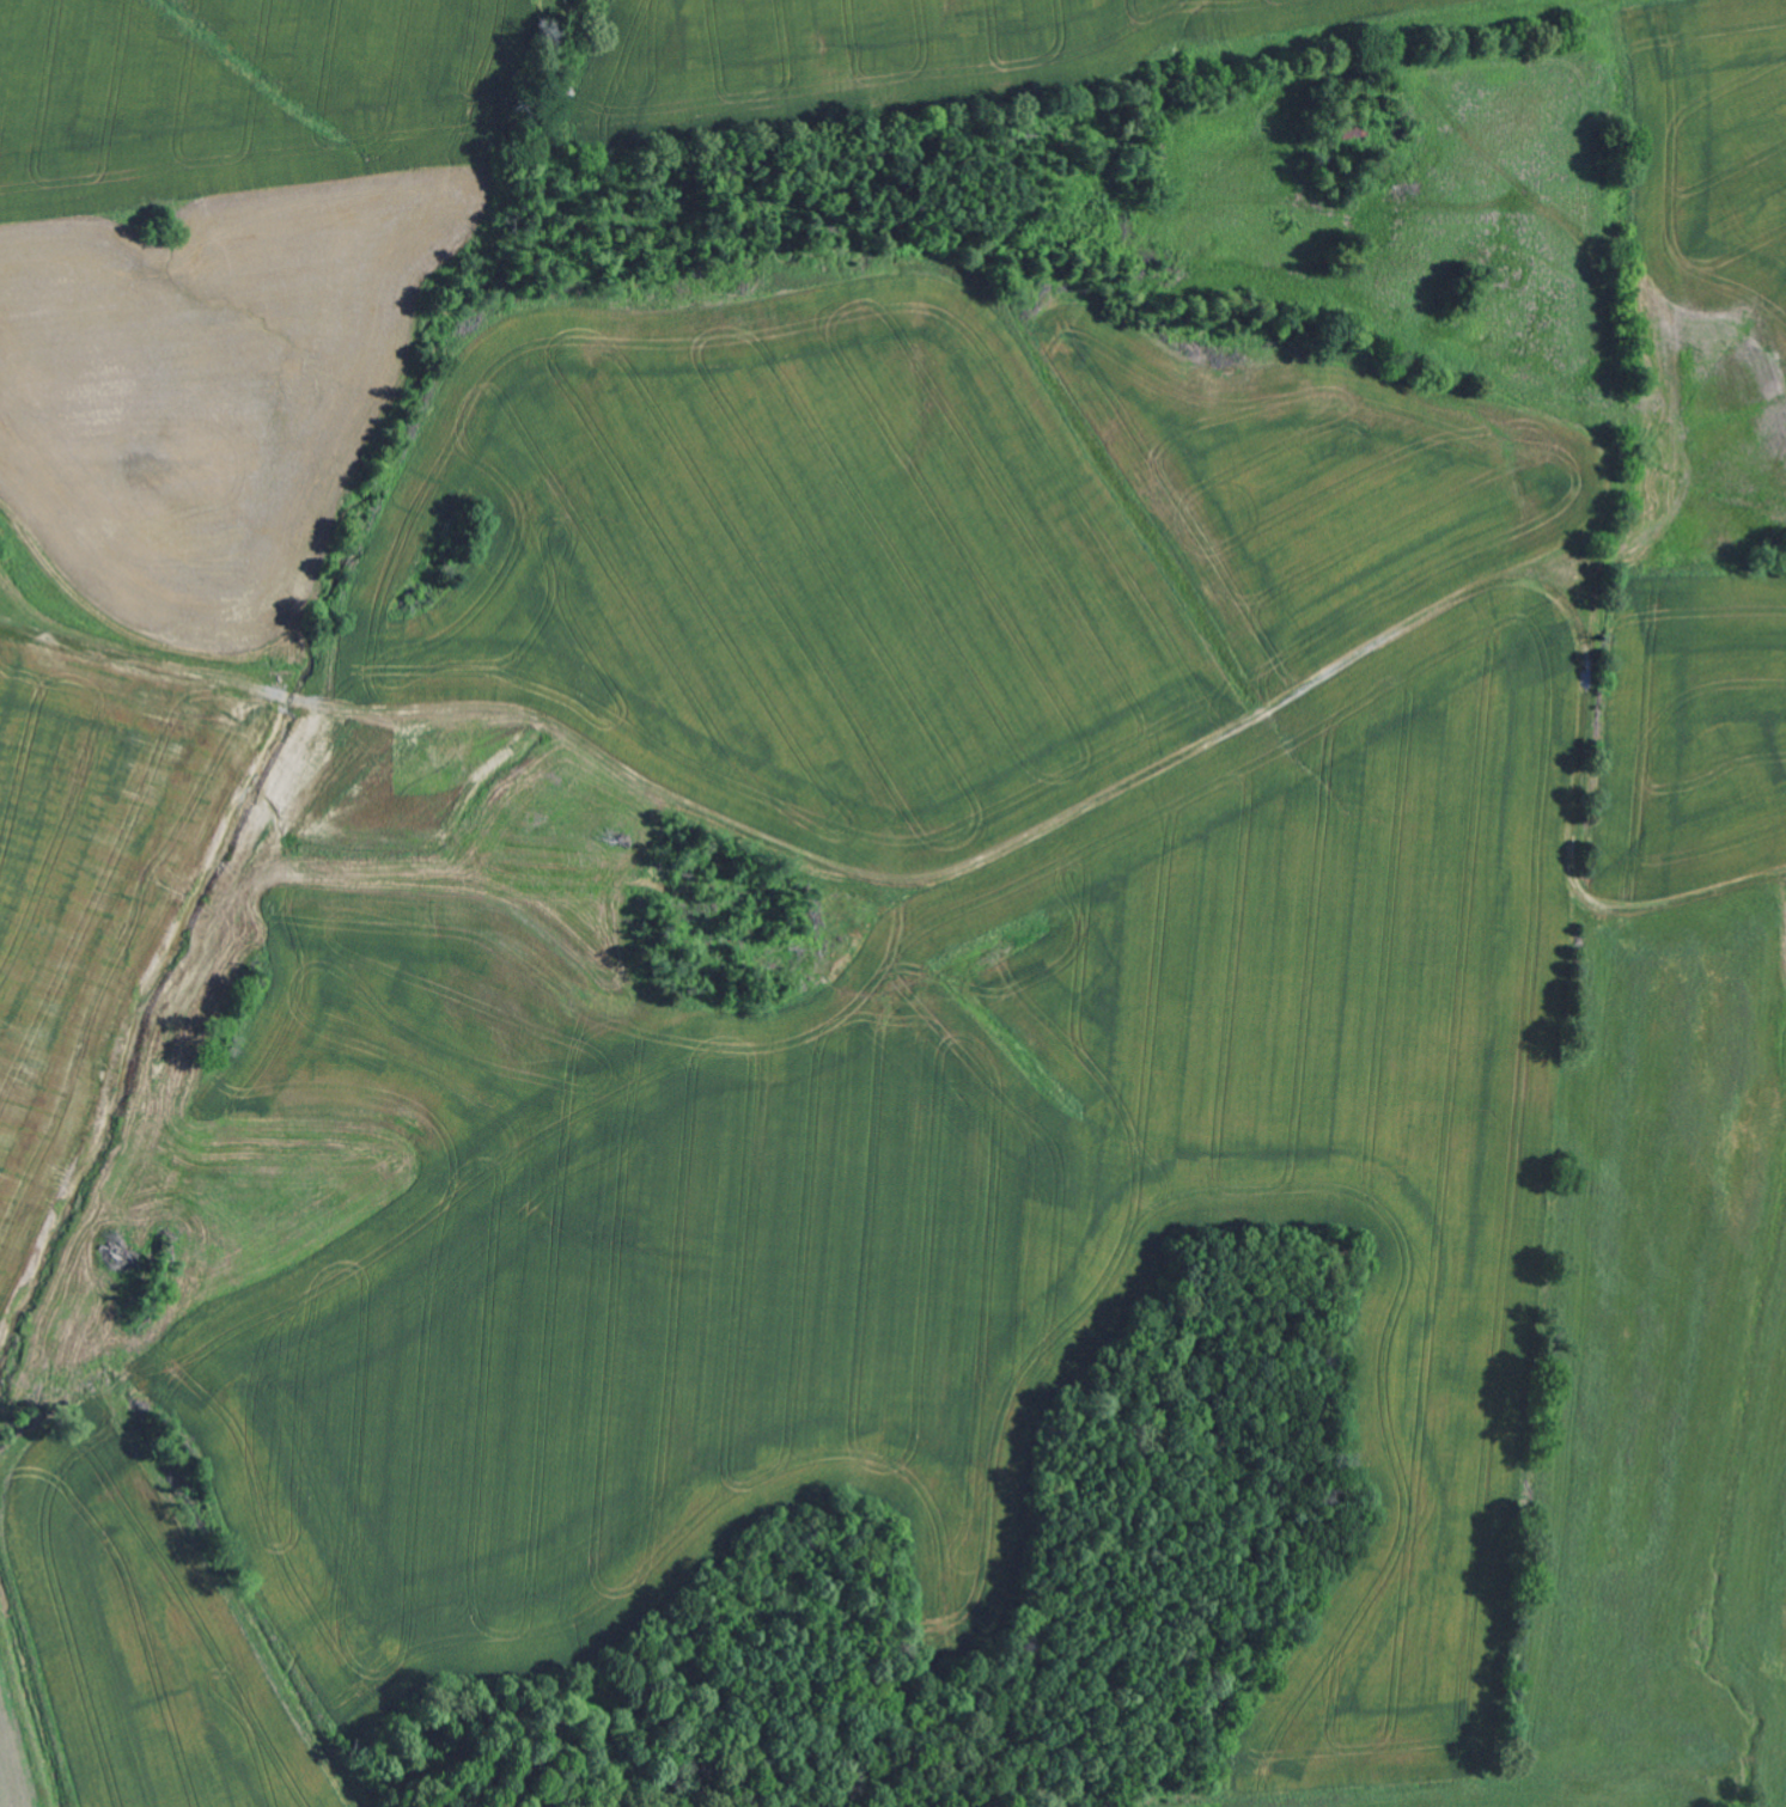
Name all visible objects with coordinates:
road: (1162, 29)

